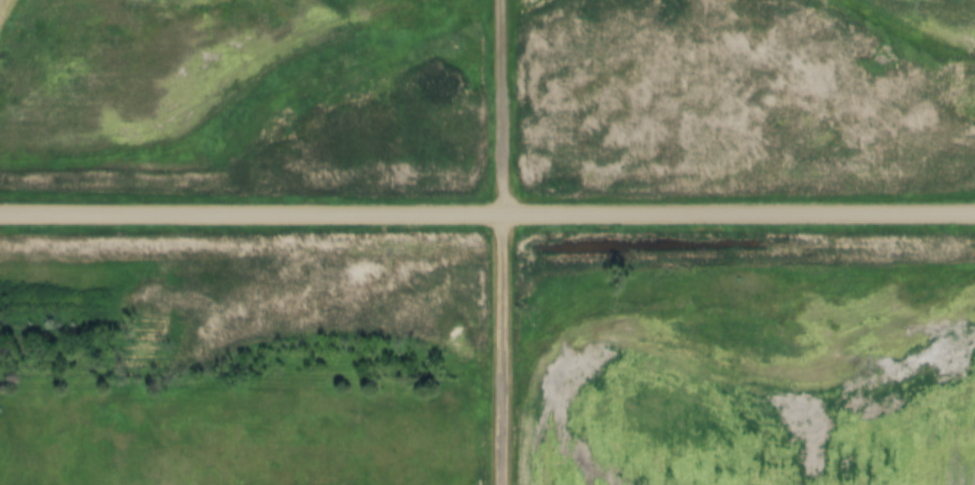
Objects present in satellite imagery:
road: (487, 214)
road: (505, 242)

